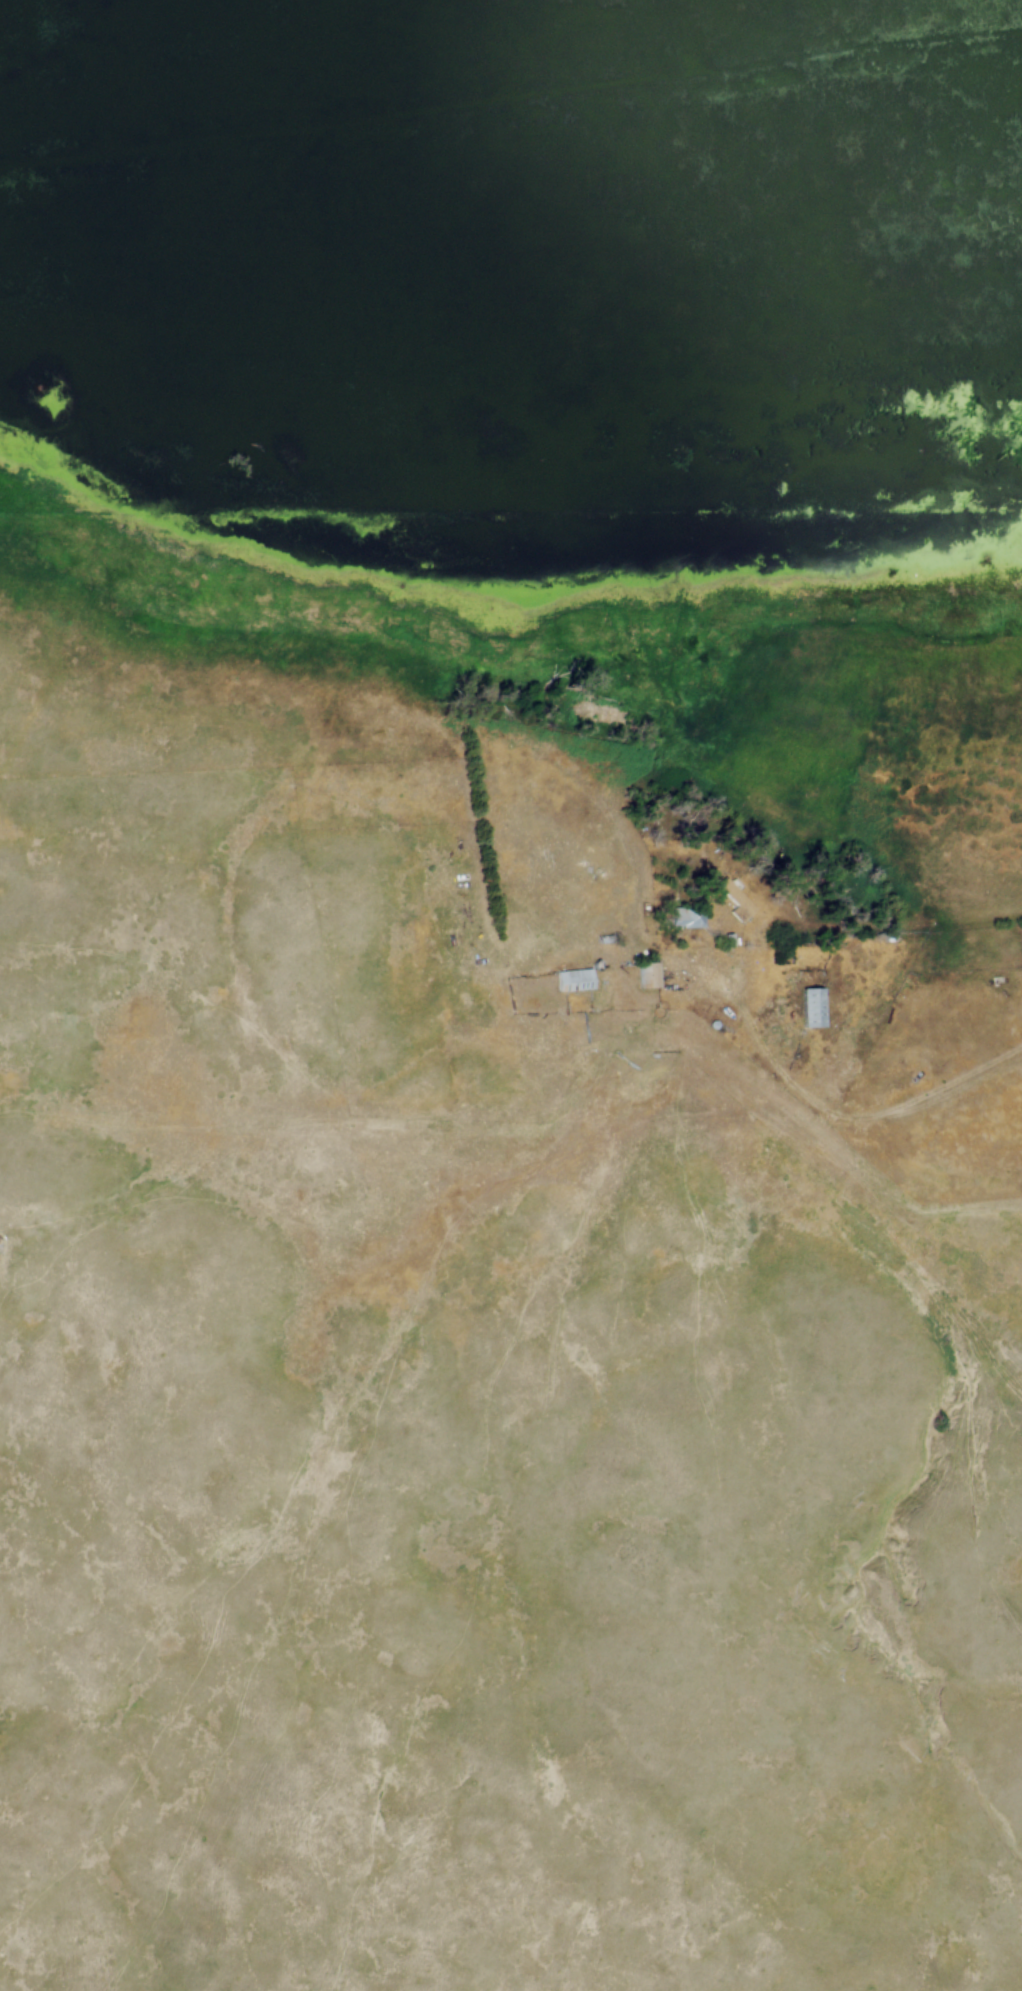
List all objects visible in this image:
building: (734, 901)
building: (686, 918)
building: (647, 976)
building: (573, 981)
building: (812, 1009)
road: (825, 1120)

